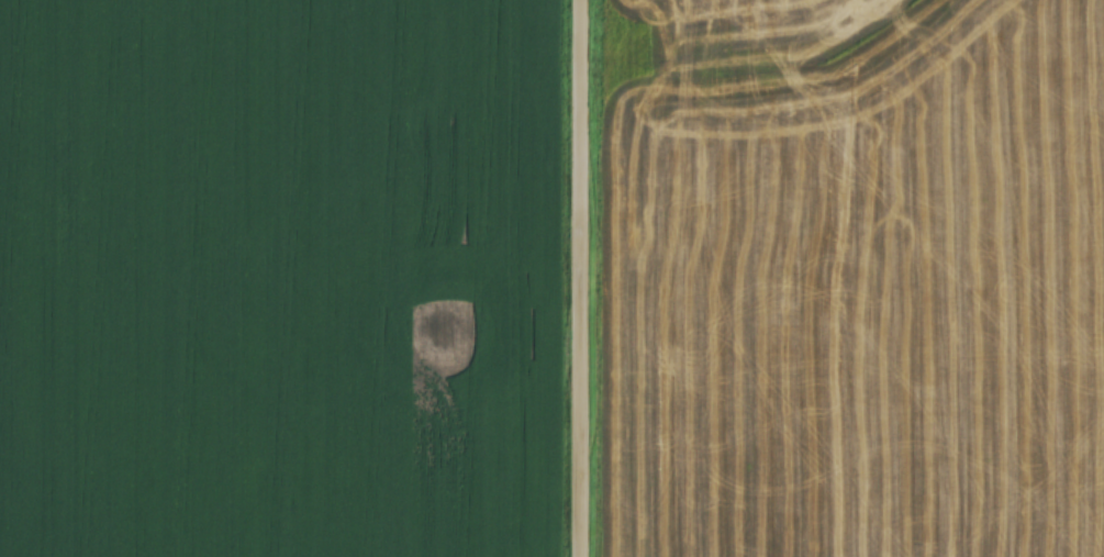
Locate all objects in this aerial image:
road: (587, 278)

